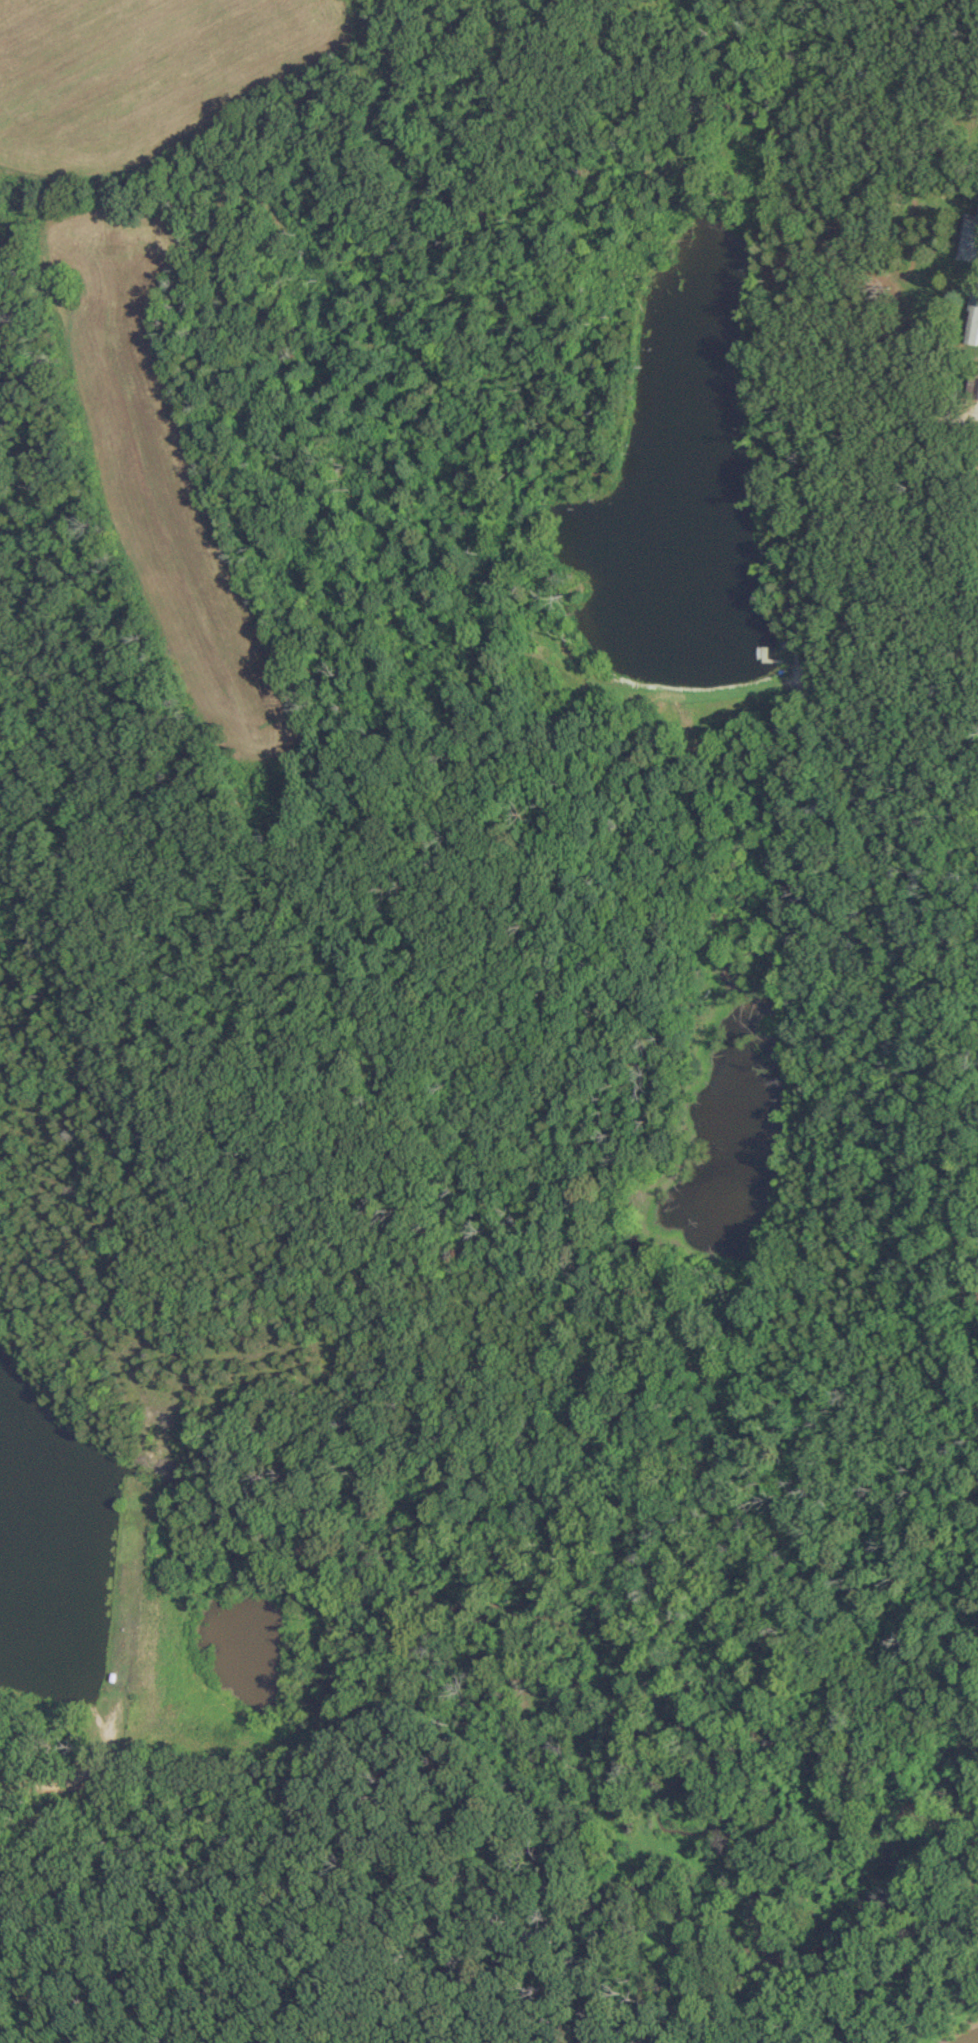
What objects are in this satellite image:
building: (969, 238)
building: (973, 320)
road: (71, 1778)

